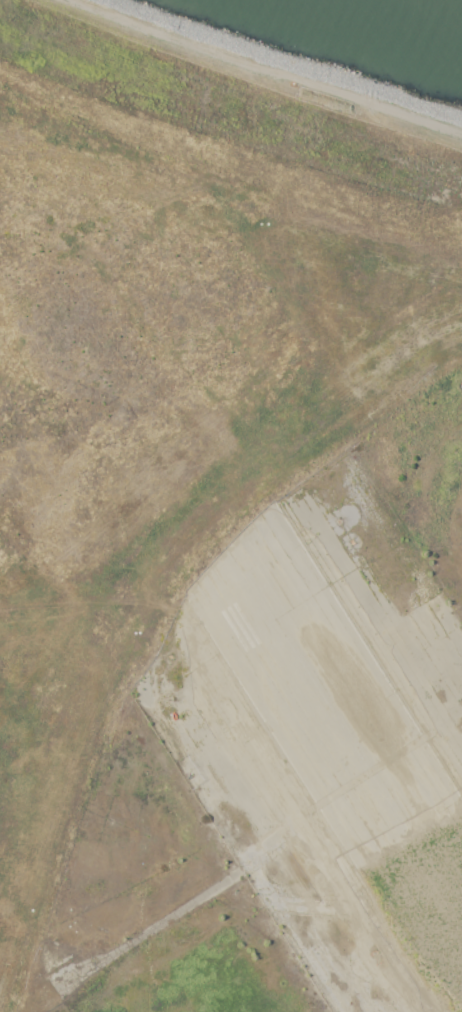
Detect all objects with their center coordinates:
road: (248, 78)

